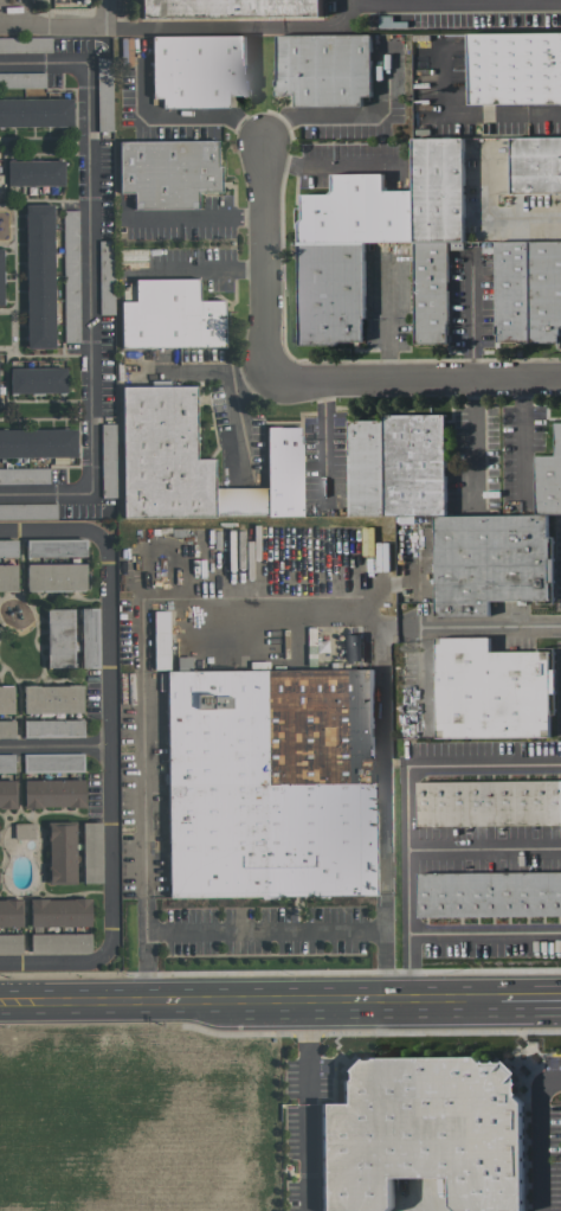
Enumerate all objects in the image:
road: (533, 2)
road: (453, 5)
building: (231, 11)
parking lot: (64, 12)
road: (234, 24)
road: (66, 27)
building: (25, 44)
building: (323, 68)
building: (515, 68)
building: (196, 69)
building: (21, 79)
building: (105, 95)
road: (477, 110)
building: (36, 111)
road: (348, 115)
road: (186, 116)
building: (535, 164)
road: (330, 165)
building: (167, 171)
building: (33, 172)
road: (492, 216)
road: (202, 218)
building: (343, 241)
road: (267, 264)
road: (160, 271)
road: (232, 271)
building: (38, 275)
building: (70, 275)
building: (104, 277)
road: (91, 282)
building: (0, 286)
building: (527, 289)
building: (169, 315)
road: (478, 319)
road: (387, 322)
road: (199, 374)
building: (36, 379)
road: (414, 380)
road: (236, 415)
road: (522, 437)
road: (477, 440)
building: (37, 442)
building: (107, 459)
building: (194, 462)
building: (24, 474)
building: (548, 476)
building: (27, 510)
building: (445, 514)
road: (53, 533)
building: (7, 547)
building: (54, 547)
building: (7, 577)
building: (54, 577)
road: (256, 592)
road: (447, 627)
building: (59, 637)
building: (89, 637)
building: (160, 640)
building: (350, 647)
building: (490, 690)
building: (6, 699)
building: (52, 699)
building: (6, 729)
building: (52, 729)
road: (108, 748)
road: (54, 749)
building: (52, 761)
building: (6, 762)
building: (269, 782)
building: (52, 793)
building: (7, 794)
building: (488, 802)
building: (22, 831)
road: (483, 850)
road: (405, 851)
building: (91, 852)
building: (60, 853)
building: (489, 893)
building: (59, 912)
building: (9, 914)
road: (263, 930)
building: (9, 943)
building: (59, 943)
road: (56, 962)
road: (405, 966)
road: (21, 1000)
road: (135, 1000)
road: (258, 1000)
road: (309, 1000)
road: (414, 1000)
road: (530, 1000)
road: (304, 1106)
building: (424, 1133)
road: (539, 1138)

